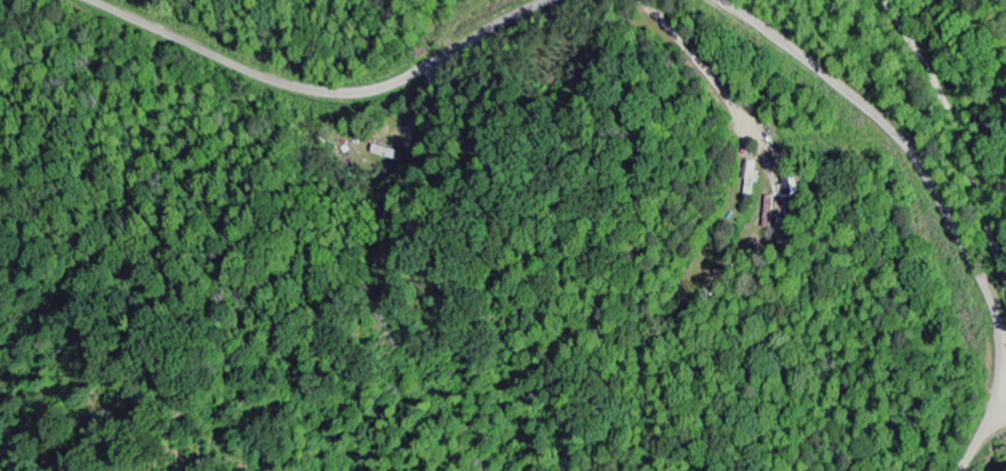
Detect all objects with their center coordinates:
road: (320, 91)
road: (954, 135)
road: (922, 170)
building: (792, 180)
building: (769, 212)
road: (1005, 280)
road: (1002, 352)
road: (996, 416)
road: (974, 444)

